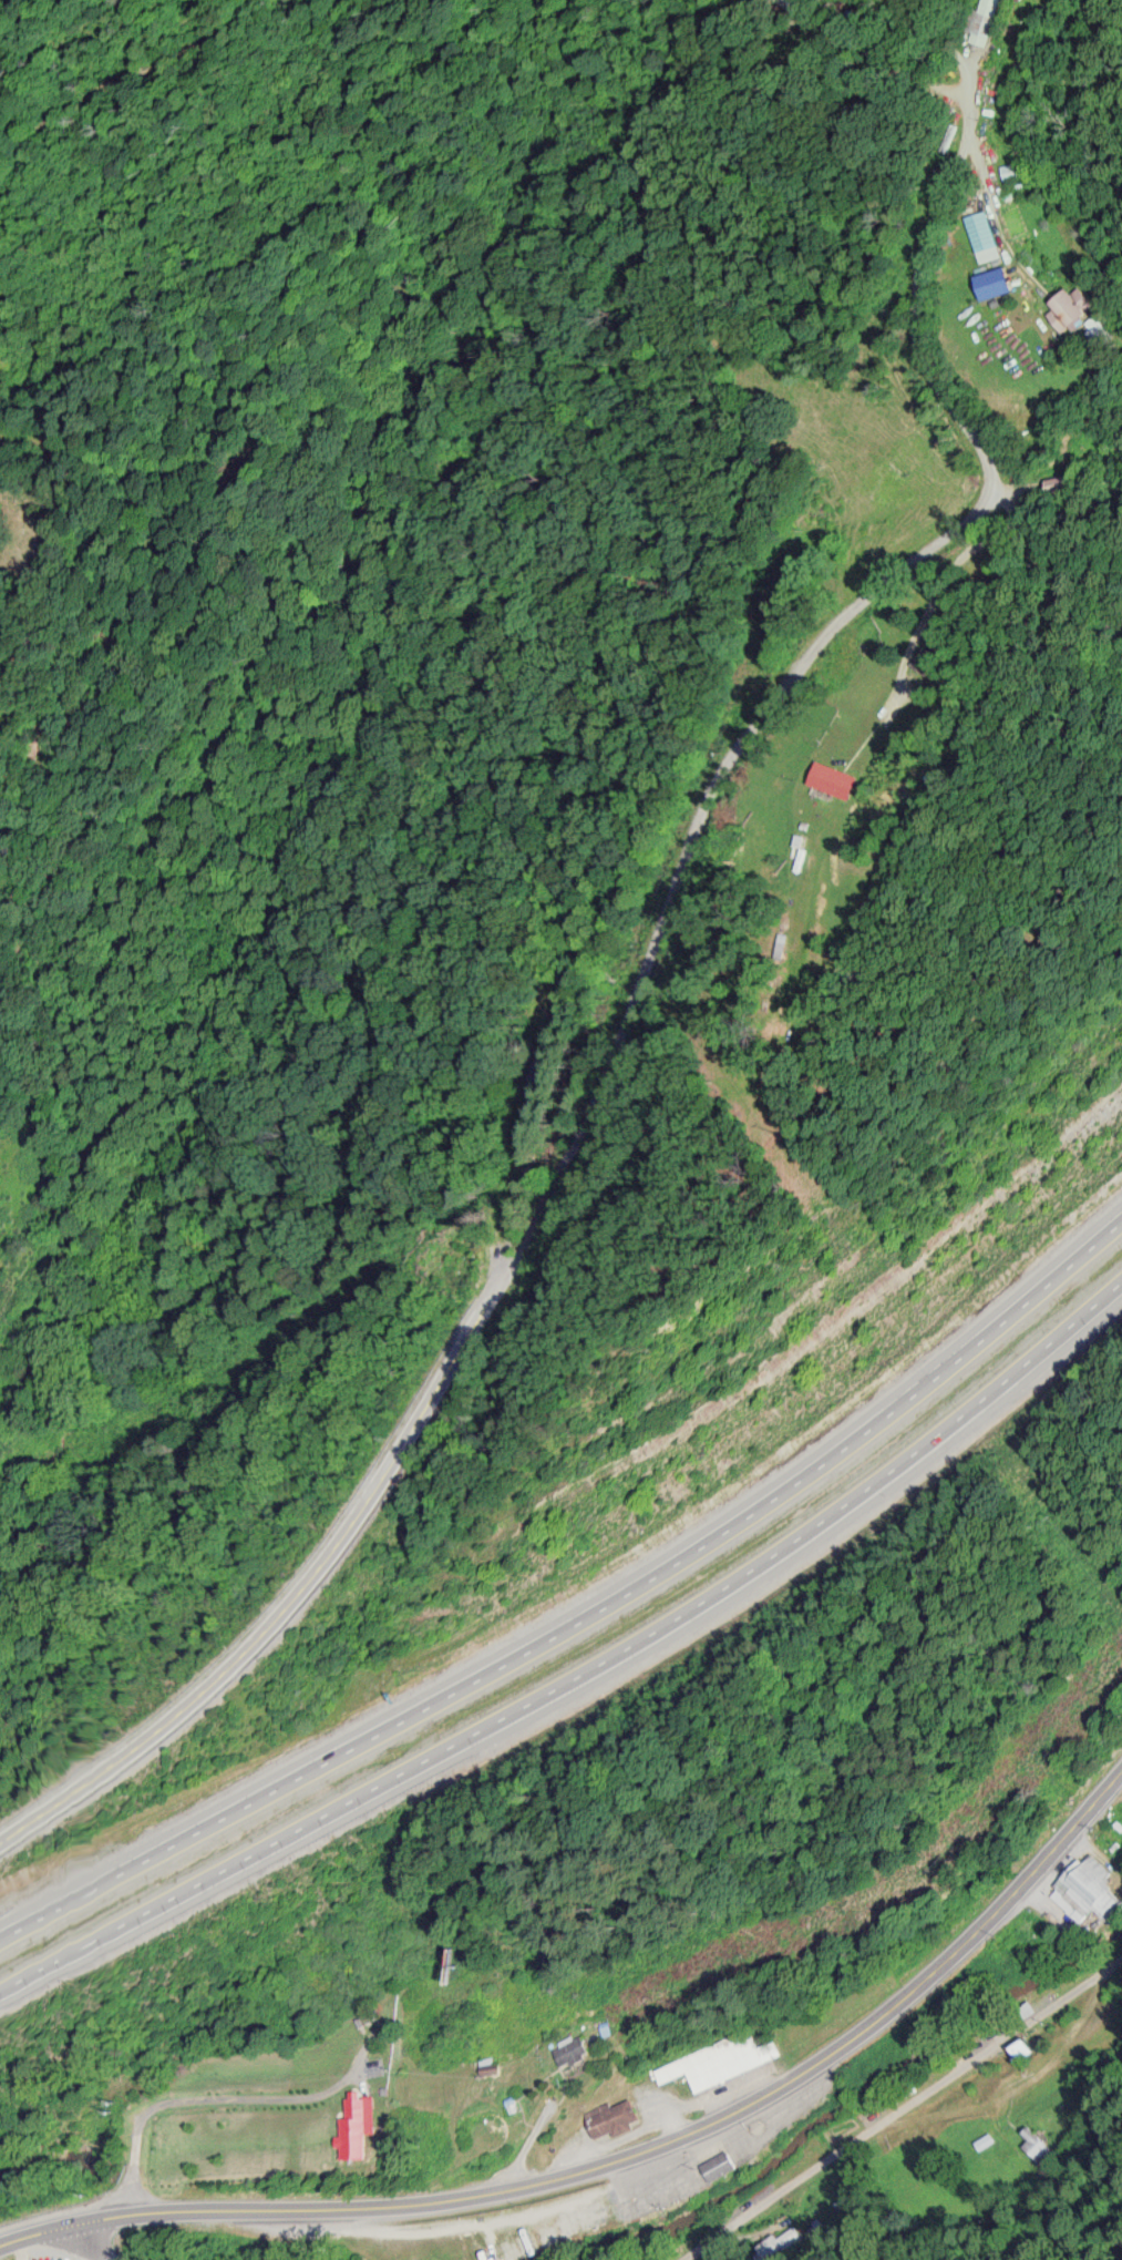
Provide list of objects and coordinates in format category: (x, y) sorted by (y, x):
road: (977, 33)
building: (1012, 170)
building: (987, 234)
building: (1077, 304)
building: (837, 777)
road: (632, 960)
road: (552, 1271)
road: (588, 1619)
road: (585, 1670)
building: (1120, 1800)
building: (1089, 1900)
building: (1021, 2046)
building: (578, 2049)
building: (707, 2065)
road: (903, 2113)
building: (613, 2116)
building: (366, 2124)
building: (1036, 2144)
road: (627, 2152)
building: (723, 2165)
road: (44, 2246)
road: (62, 2246)

